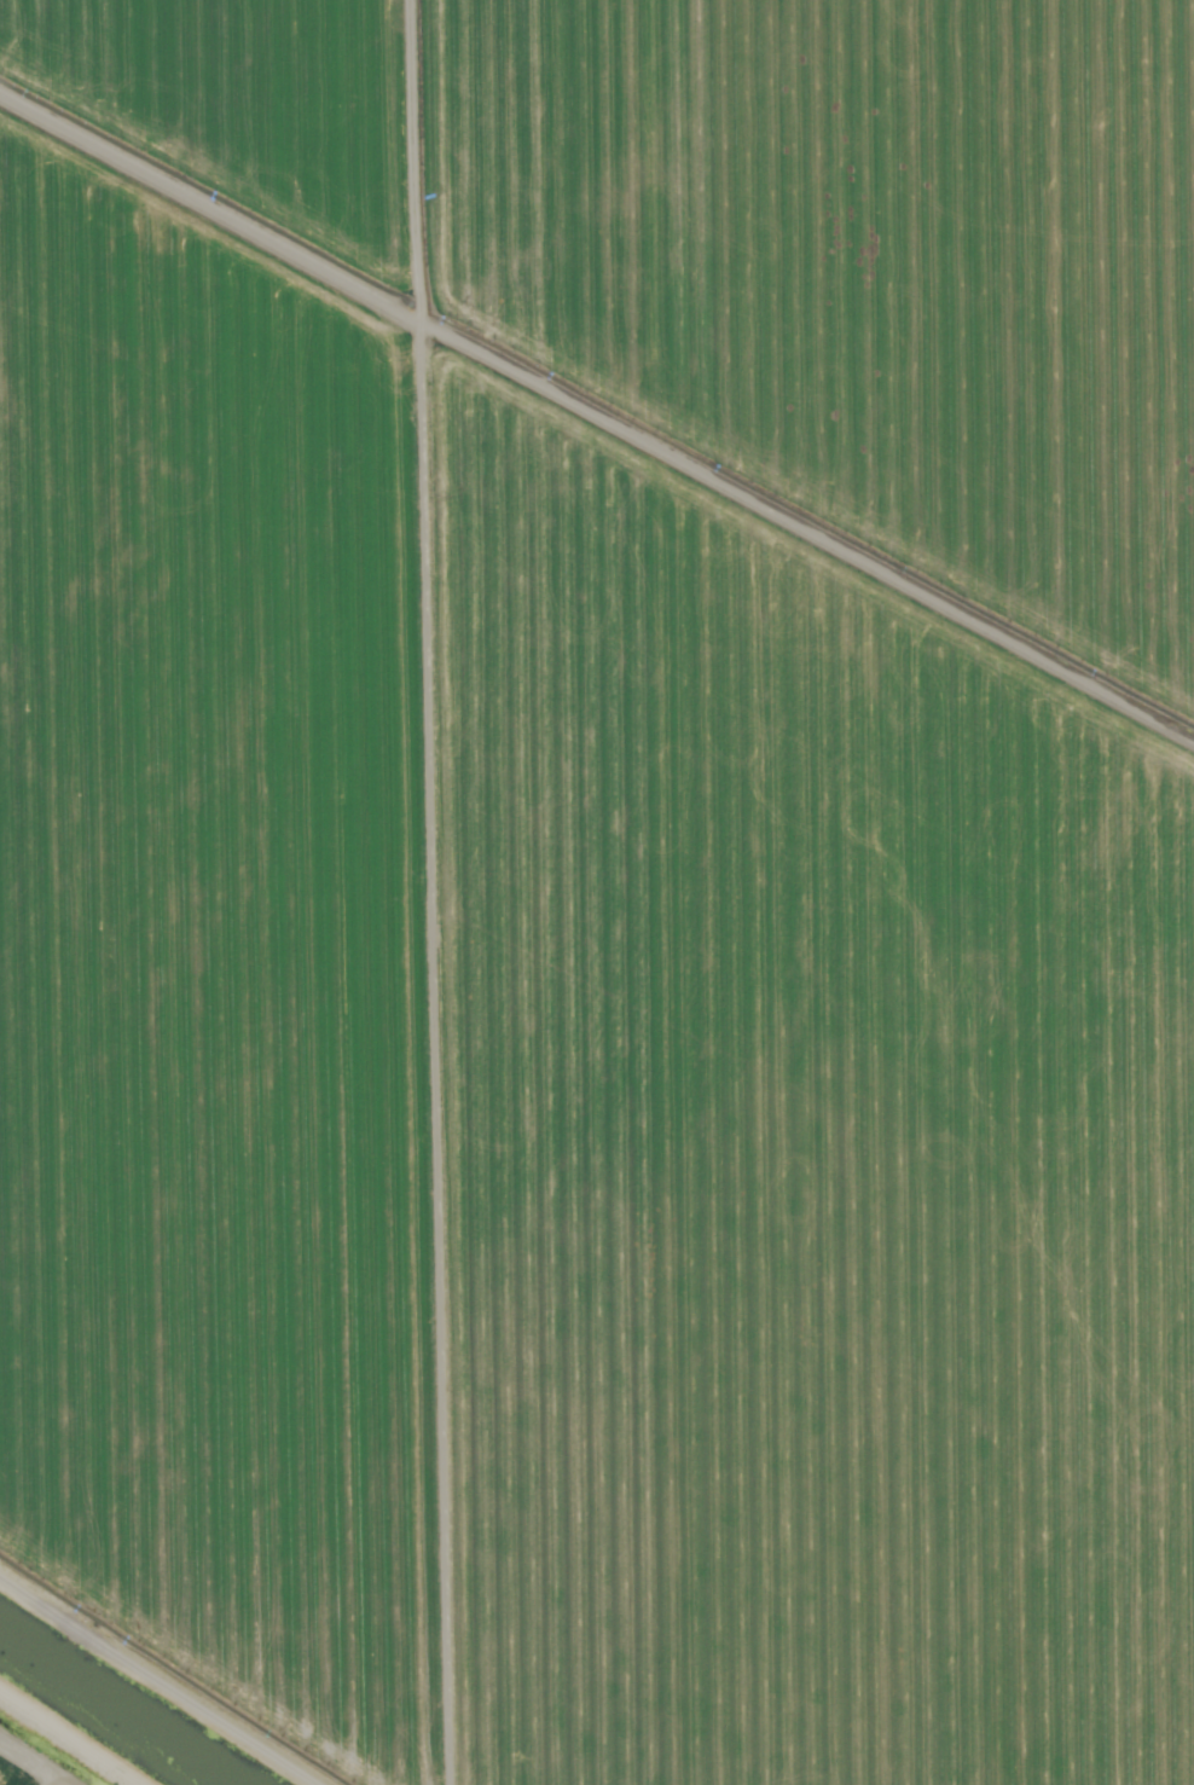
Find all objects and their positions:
crop: (604, 879)
road: (214, 1646)
crop: (17, 1773)

